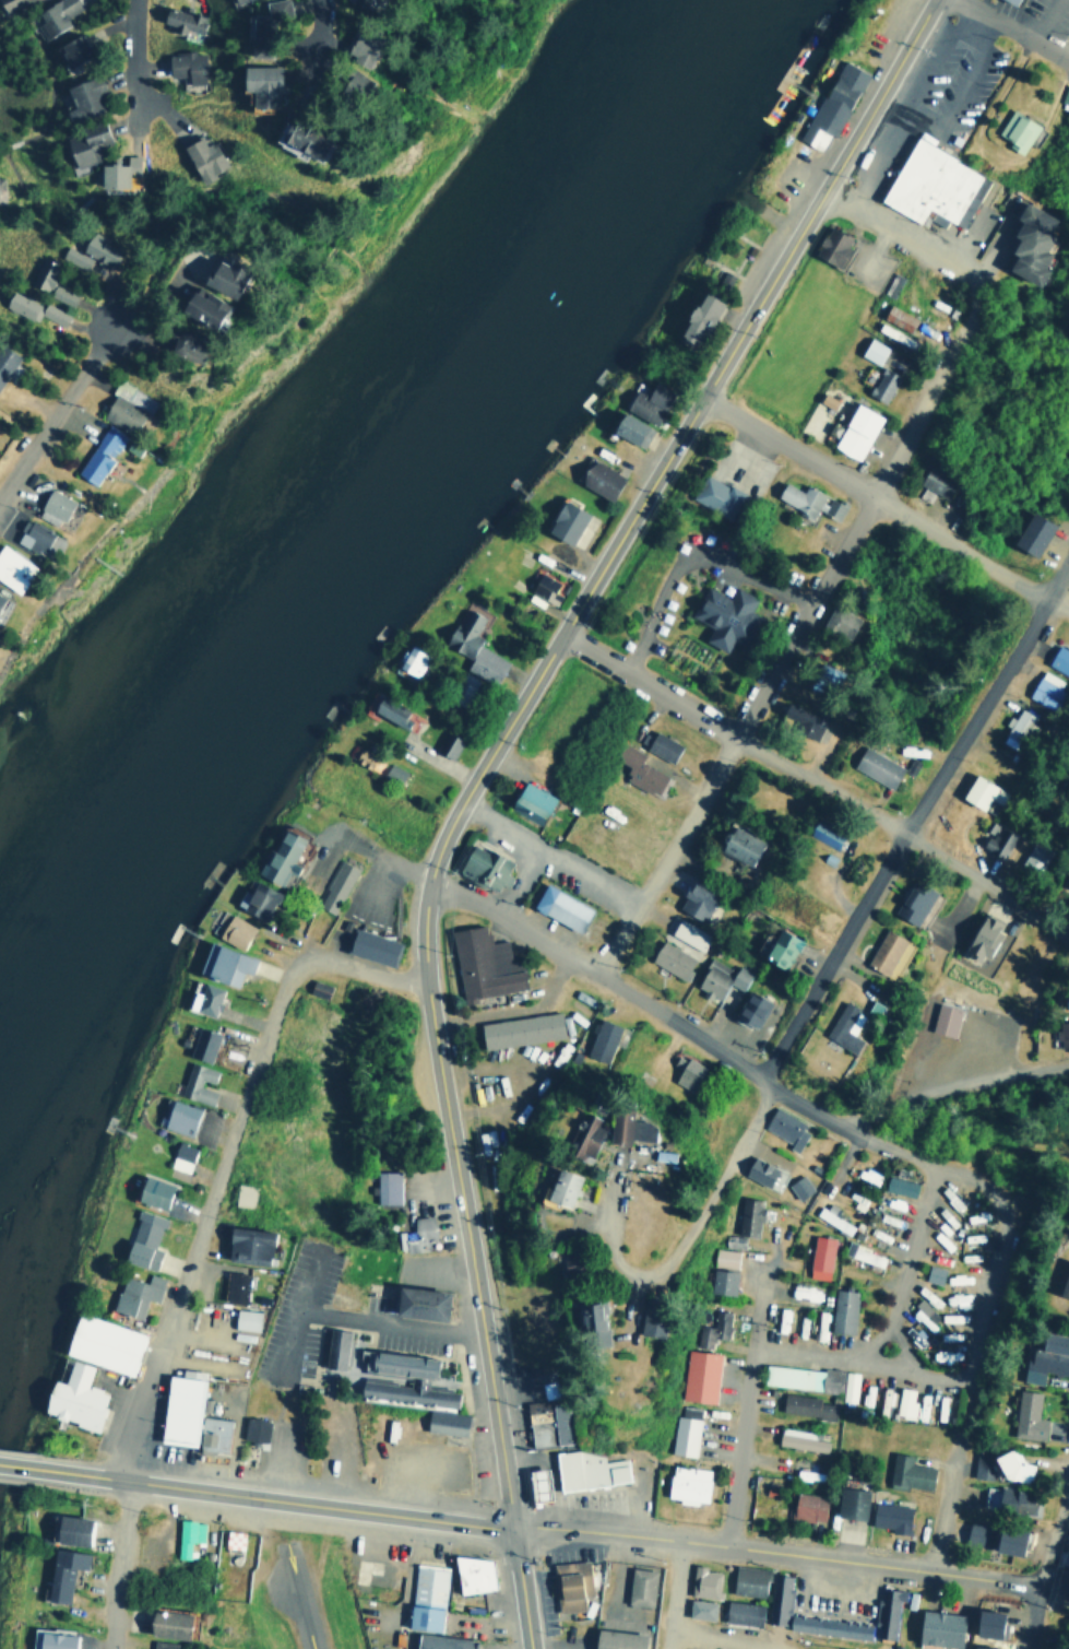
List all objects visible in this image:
building: (230, 0)
building: (1008, 1)
building: (358, 2)
building: (9, 3)
building: (52, 15)
building: (180, 22)
building: (259, 26)
road: (1008, 30)
road: (323, 38)
building: (354, 47)
building: (70, 48)
building: (185, 66)
road: (132, 67)
building: (256, 84)
building: (348, 84)
building: (1065, 93)
building: (81, 97)
building: (830, 103)
building: (1014, 129)
building: (297, 137)
building: (82, 143)
building: (200, 156)
building: (115, 170)
building: (931, 185)
building: (1028, 240)
building: (830, 244)
building: (98, 248)
road: (934, 251)
building: (73, 257)
building: (217, 276)
building: (50, 283)
building: (195, 306)
building: (31, 307)
building: (696, 316)
building: (895, 316)
building: (884, 329)
building: (182, 346)
building: (871, 349)
building: (4, 360)
building: (880, 382)
building: (644, 401)
building: (124, 405)
road: (57, 422)
building: (628, 427)
building: (854, 429)
building: (98, 454)
river: (363, 476)
building: (597, 478)
building: (934, 482)
road: (645, 484)
building: (715, 494)
building: (807, 499)
road: (872, 499)
building: (50, 506)
building: (563, 520)
building: (1030, 532)
building: (31, 535)
building: (12, 569)
building: (543, 587)
road: (1060, 602)
building: (722, 613)
building: (835, 621)
road: (794, 629)
building: (472, 647)
building: (408, 659)
building: (1058, 659)
building: (1044, 687)
building: (387, 709)
building: (799, 718)
building: (411, 719)
building: (1012, 727)
building: (449, 745)
building: (660, 745)
building: (875, 765)
building: (637, 769)
building: (391, 773)
road: (811, 778)
building: (528, 801)
road: (924, 828)
building: (821, 834)
building: (996, 838)
building: (737, 844)
building: (278, 855)
building: (1034, 856)
building: (482, 867)
parking lot: (574, 871)
building: (1066, 879)
building: (334, 886)
building: (253, 898)
building: (694, 899)
building: (911, 903)
building: (559, 907)
building: (231, 930)
building: (687, 933)
building: (370, 945)
building: (779, 947)
building: (886, 953)
building: (669, 958)
building: (222, 963)
building: (482, 963)
building: (720, 978)
building: (316, 987)
building: (201, 997)
building: (1066, 999)
building: (749, 1008)
building: (943, 1018)
building: (840, 1027)
building: (519, 1028)
building: (1061, 1033)
building: (601, 1039)
road: (702, 1041)
building: (200, 1044)
building: (685, 1072)
building: (194, 1082)
building: (492, 1089)
building: (178, 1116)
building: (621, 1126)
building: (784, 1128)
building: (581, 1136)
building: (656, 1154)
building: (179, 1155)
road: (226, 1156)
road: (840, 1158)
building: (760, 1171)
building: (866, 1174)
building: (898, 1185)
building: (384, 1186)
building: (551, 1186)
building: (797, 1186)
building: (151, 1191)
building: (241, 1193)
building: (748, 1215)
building: (831, 1216)
road: (693, 1221)
building: (416, 1234)
building: (141, 1239)
building: (732, 1239)
building: (245, 1244)
building: (866, 1255)
building: (818, 1256)
building: (723, 1257)
road: (471, 1258)
road: (907, 1263)
building: (931, 1273)
building: (720, 1281)
building: (1064, 1282)
building: (233, 1286)
building: (804, 1291)
building: (133, 1293)
building: (417, 1301)
building: (841, 1310)
building: (244, 1318)
building: (781, 1319)
building: (587, 1323)
building: (645, 1324)
building: (711, 1328)
building: (102, 1343)
building: (332, 1347)
building: (1046, 1356)
road: (859, 1359)
building: (698, 1375)
building: (799, 1376)
road: (969, 1376)
building: (416, 1377)
building: (847, 1385)
building: (72, 1397)
road: (746, 1397)
building: (881, 1400)
building: (903, 1401)
building: (804, 1404)
building: (179, 1405)
building: (920, 1405)
building: (940, 1406)
building: (1026, 1415)
building: (443, 1421)
building: (546, 1422)
building: (252, 1428)
building: (211, 1433)
building: (682, 1435)
building: (799, 1438)
road: (19, 1464)
building: (1011, 1467)
building: (587, 1469)
building: (907, 1472)
building: (686, 1483)
building: (535, 1484)
road: (275, 1496)
building: (1008, 1499)
building: (848, 1501)
building: (806, 1506)
building: (888, 1516)
building: (69, 1528)
building: (186, 1534)
building: (994, 1538)
road: (776, 1552)
road: (1044, 1559)
road: (116, 1563)
building: (1068, 1564)
building: (60, 1570)
building: (471, 1573)
building: (746, 1579)
building: (702, 1581)
building: (569, 1582)
road: (523, 1586)
building: (639, 1586)
road: (1053, 1587)
airport: (282, 1591)
road: (674, 1594)
airport runway: (300, 1595)
building: (425, 1595)
building: (883, 1606)
building: (699, 1609)
building: (740, 1612)
building: (164, 1622)
building: (985, 1622)
building: (938, 1627)
building: (615, 1638)
building: (49, 1639)
road: (705, 1639)
building: (440, 1641)
building: (161, 1644)

